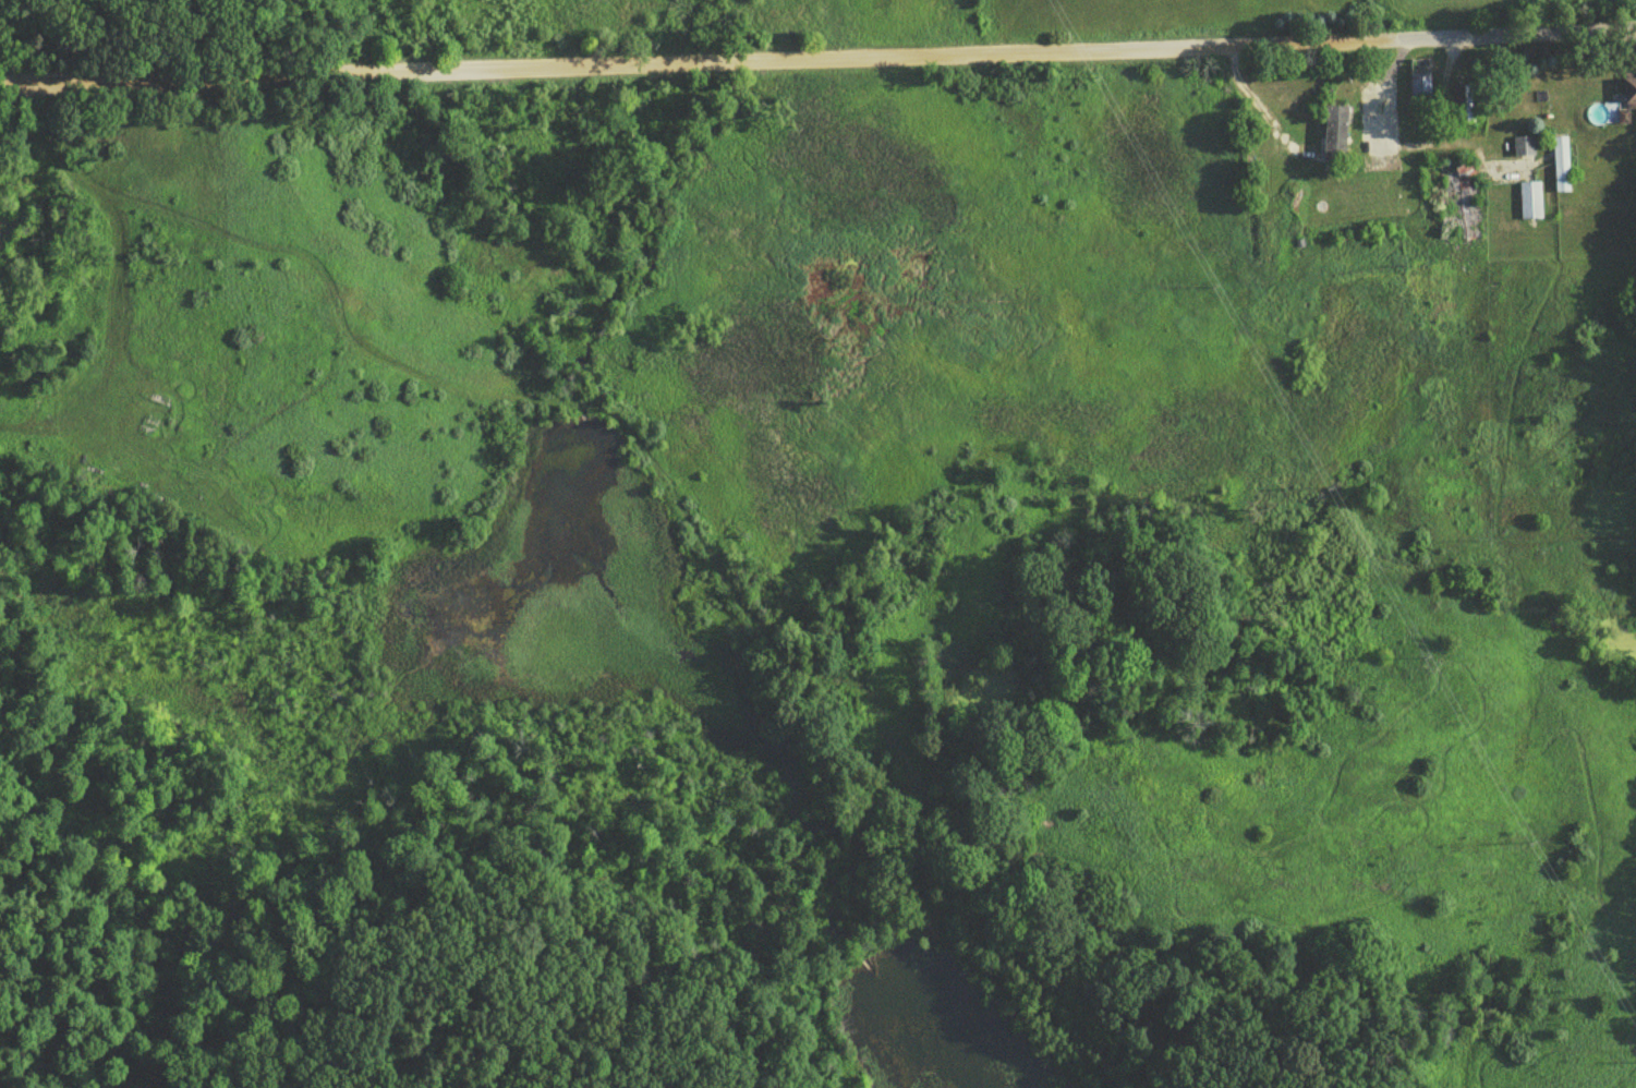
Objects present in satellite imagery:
road: (817, 63)
building: (1421, 84)
building: (1629, 97)
road: (1246, 101)
building: (1336, 138)
building: (1524, 152)
building: (1562, 170)
building: (1454, 206)
building: (1530, 206)
road: (108, 347)
road: (654, 467)
dam: (858, 955)

